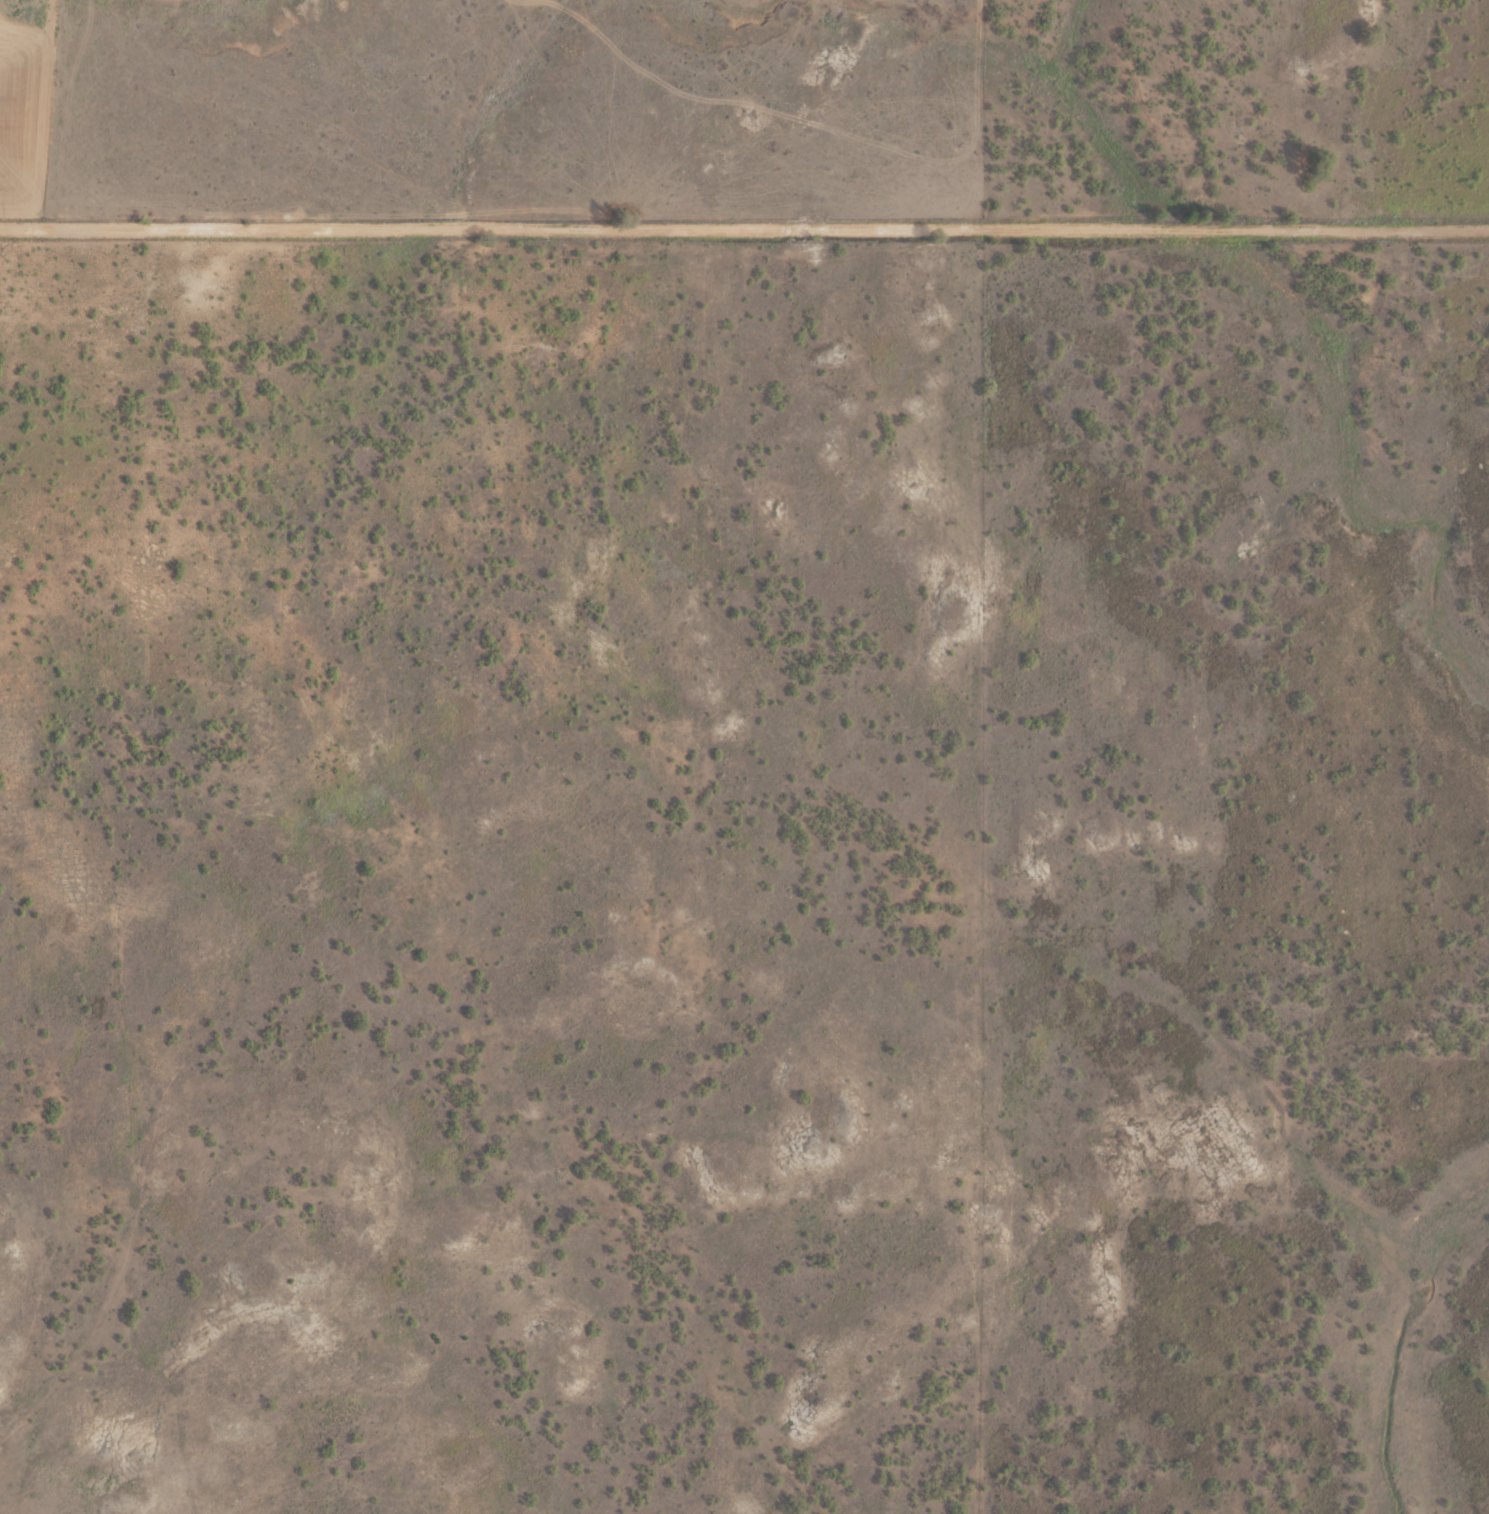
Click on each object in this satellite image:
road: (744, 229)

